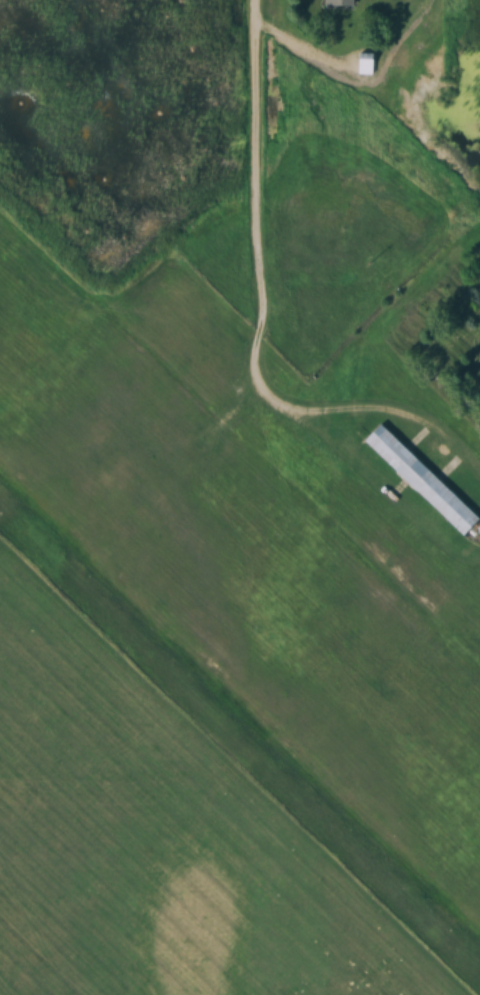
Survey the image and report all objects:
building: (341, 3)
road: (251, 167)
airport: (264, 373)
building: (423, 480)
airport runway: (240, 553)

